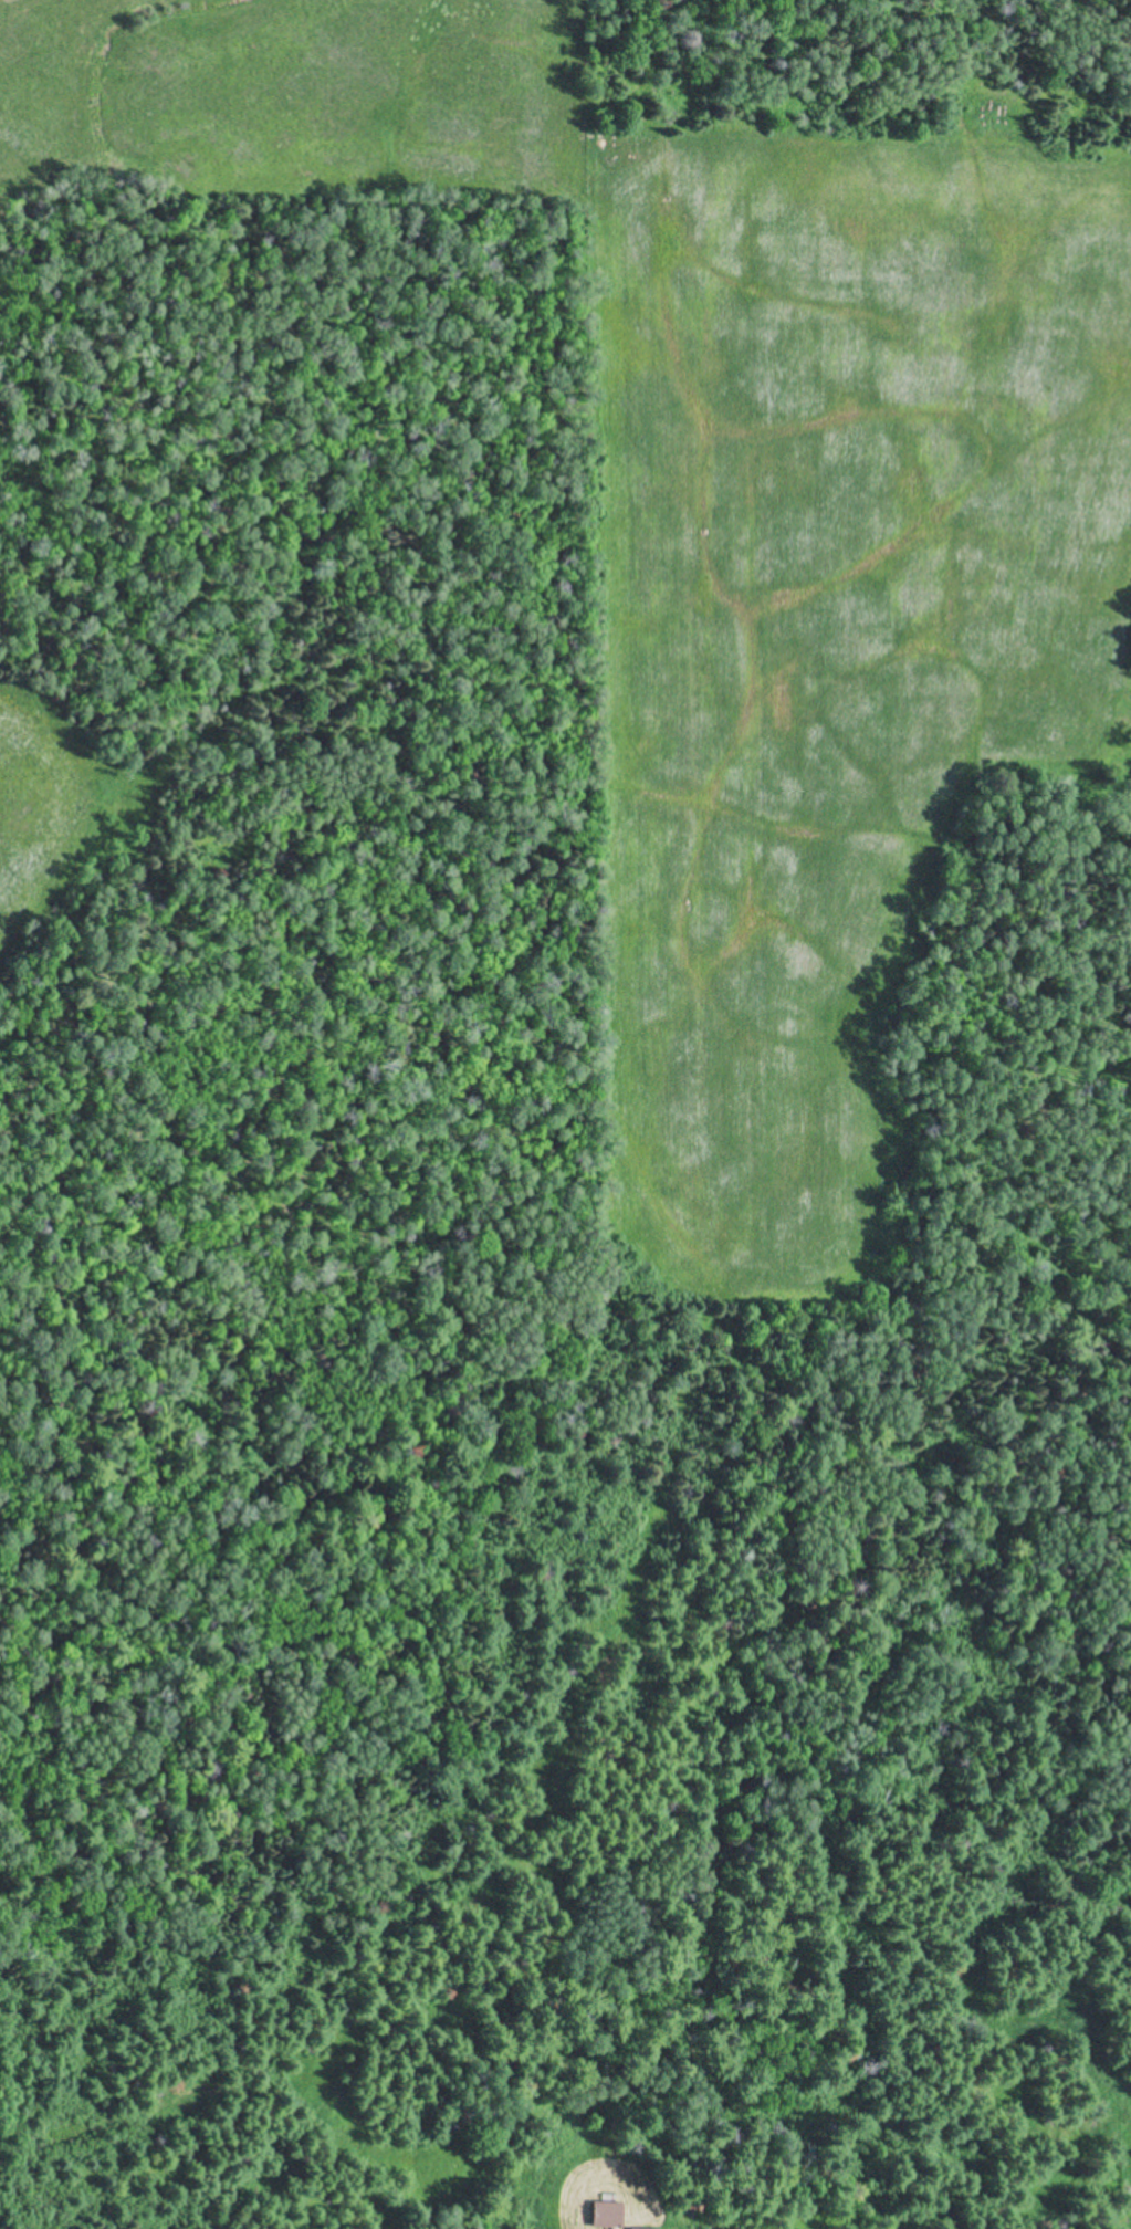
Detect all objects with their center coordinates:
building: (608, 2212)

